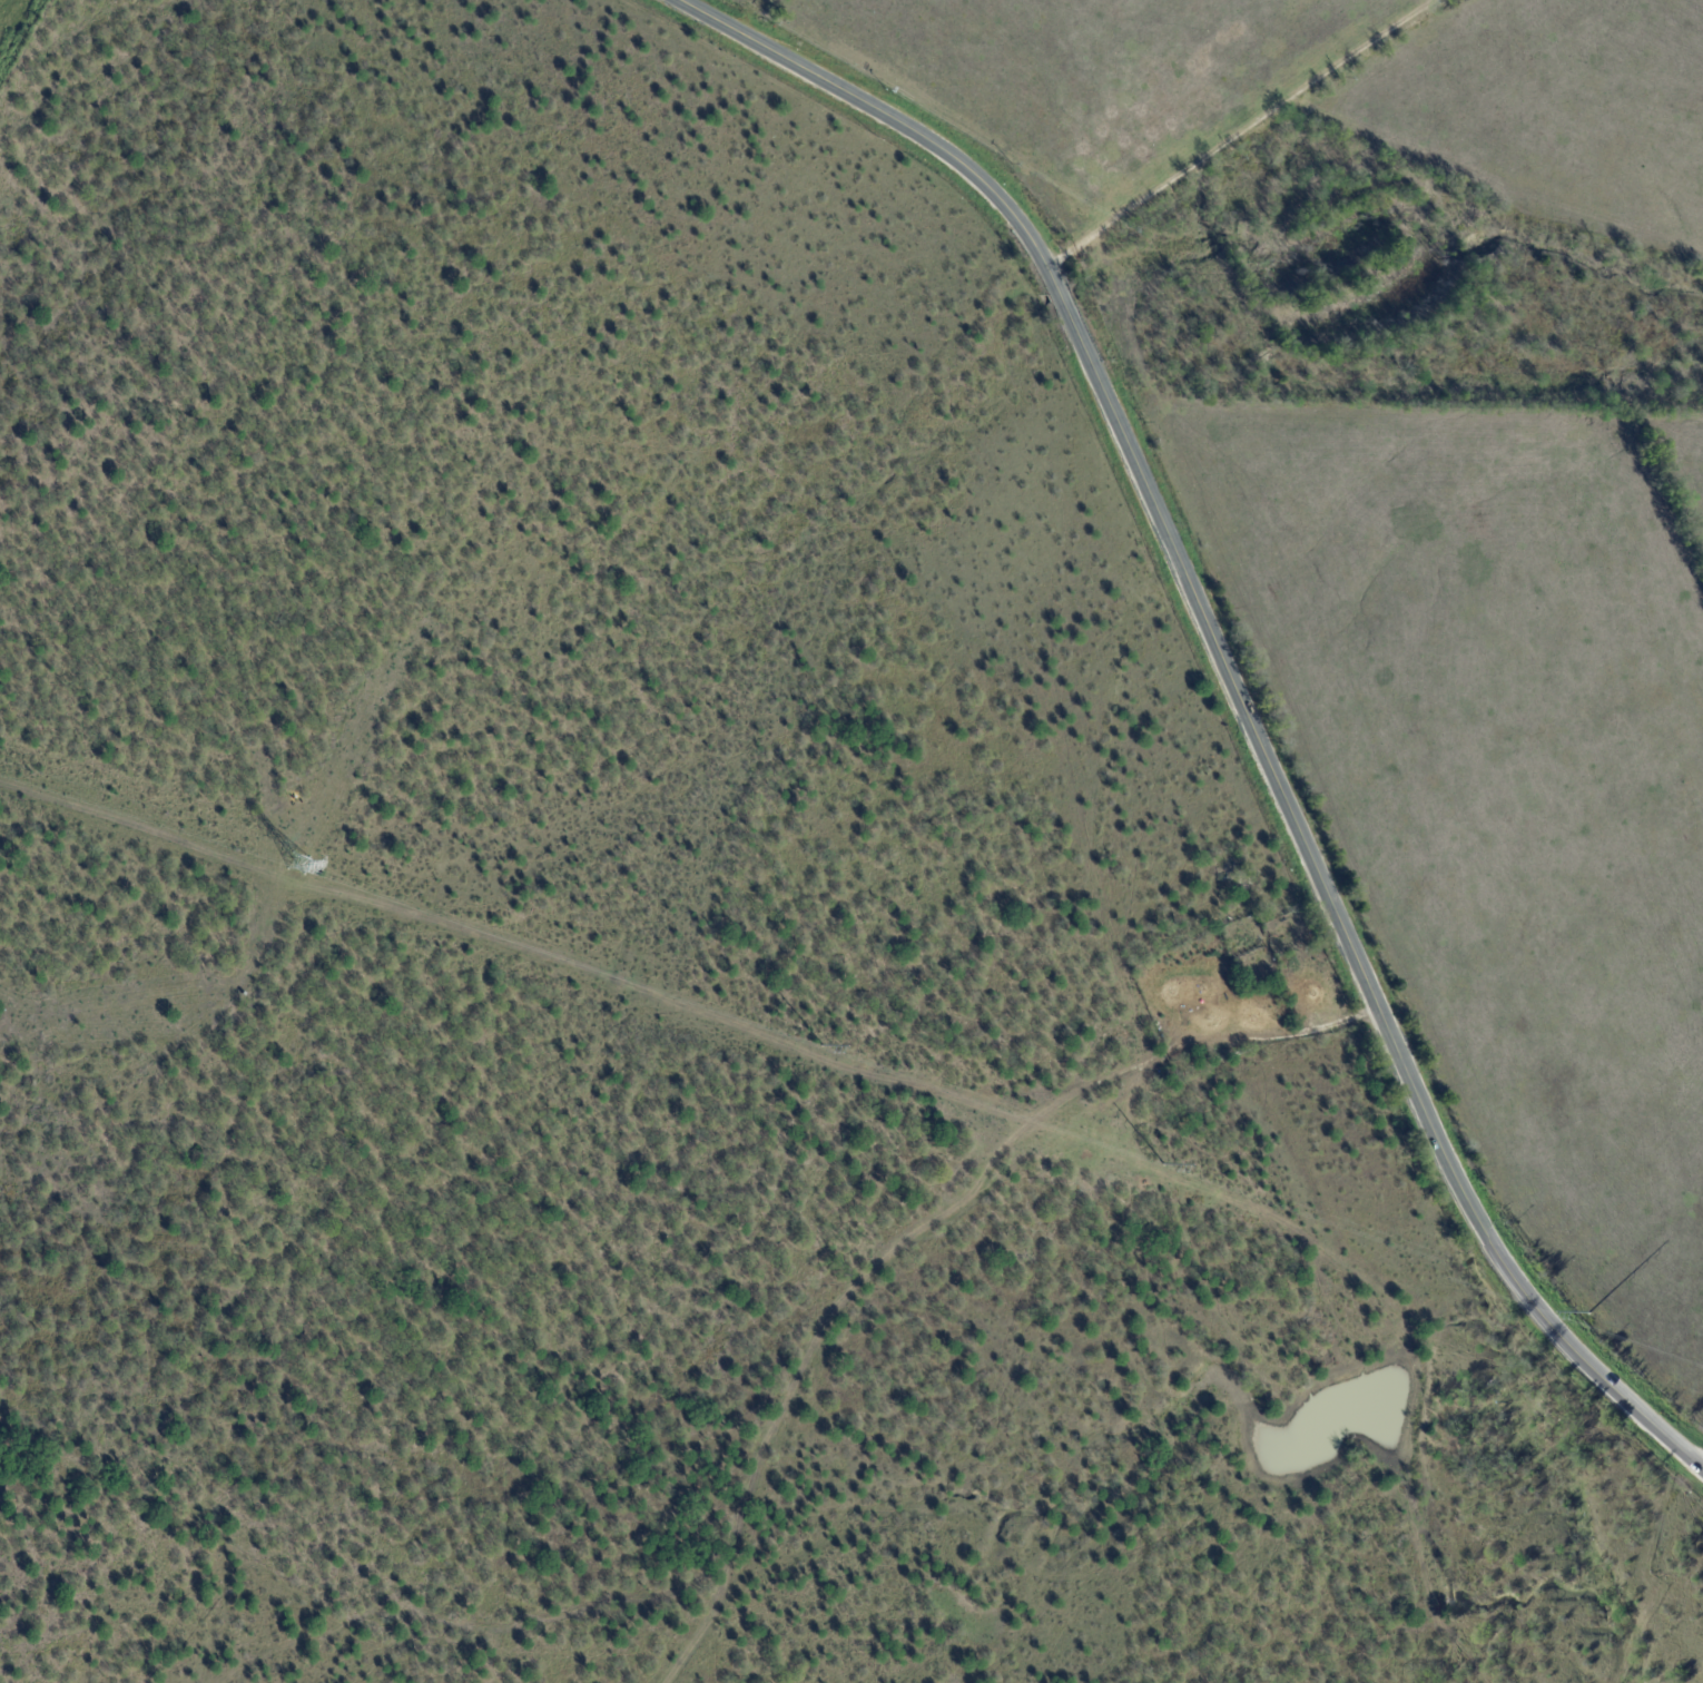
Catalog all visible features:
road: (1242, 134)
road: (1236, 685)
power tower: (298, 864)
power tower: (823, 1047)
power tower: (1162, 1165)
power tower: (1588, 1313)

